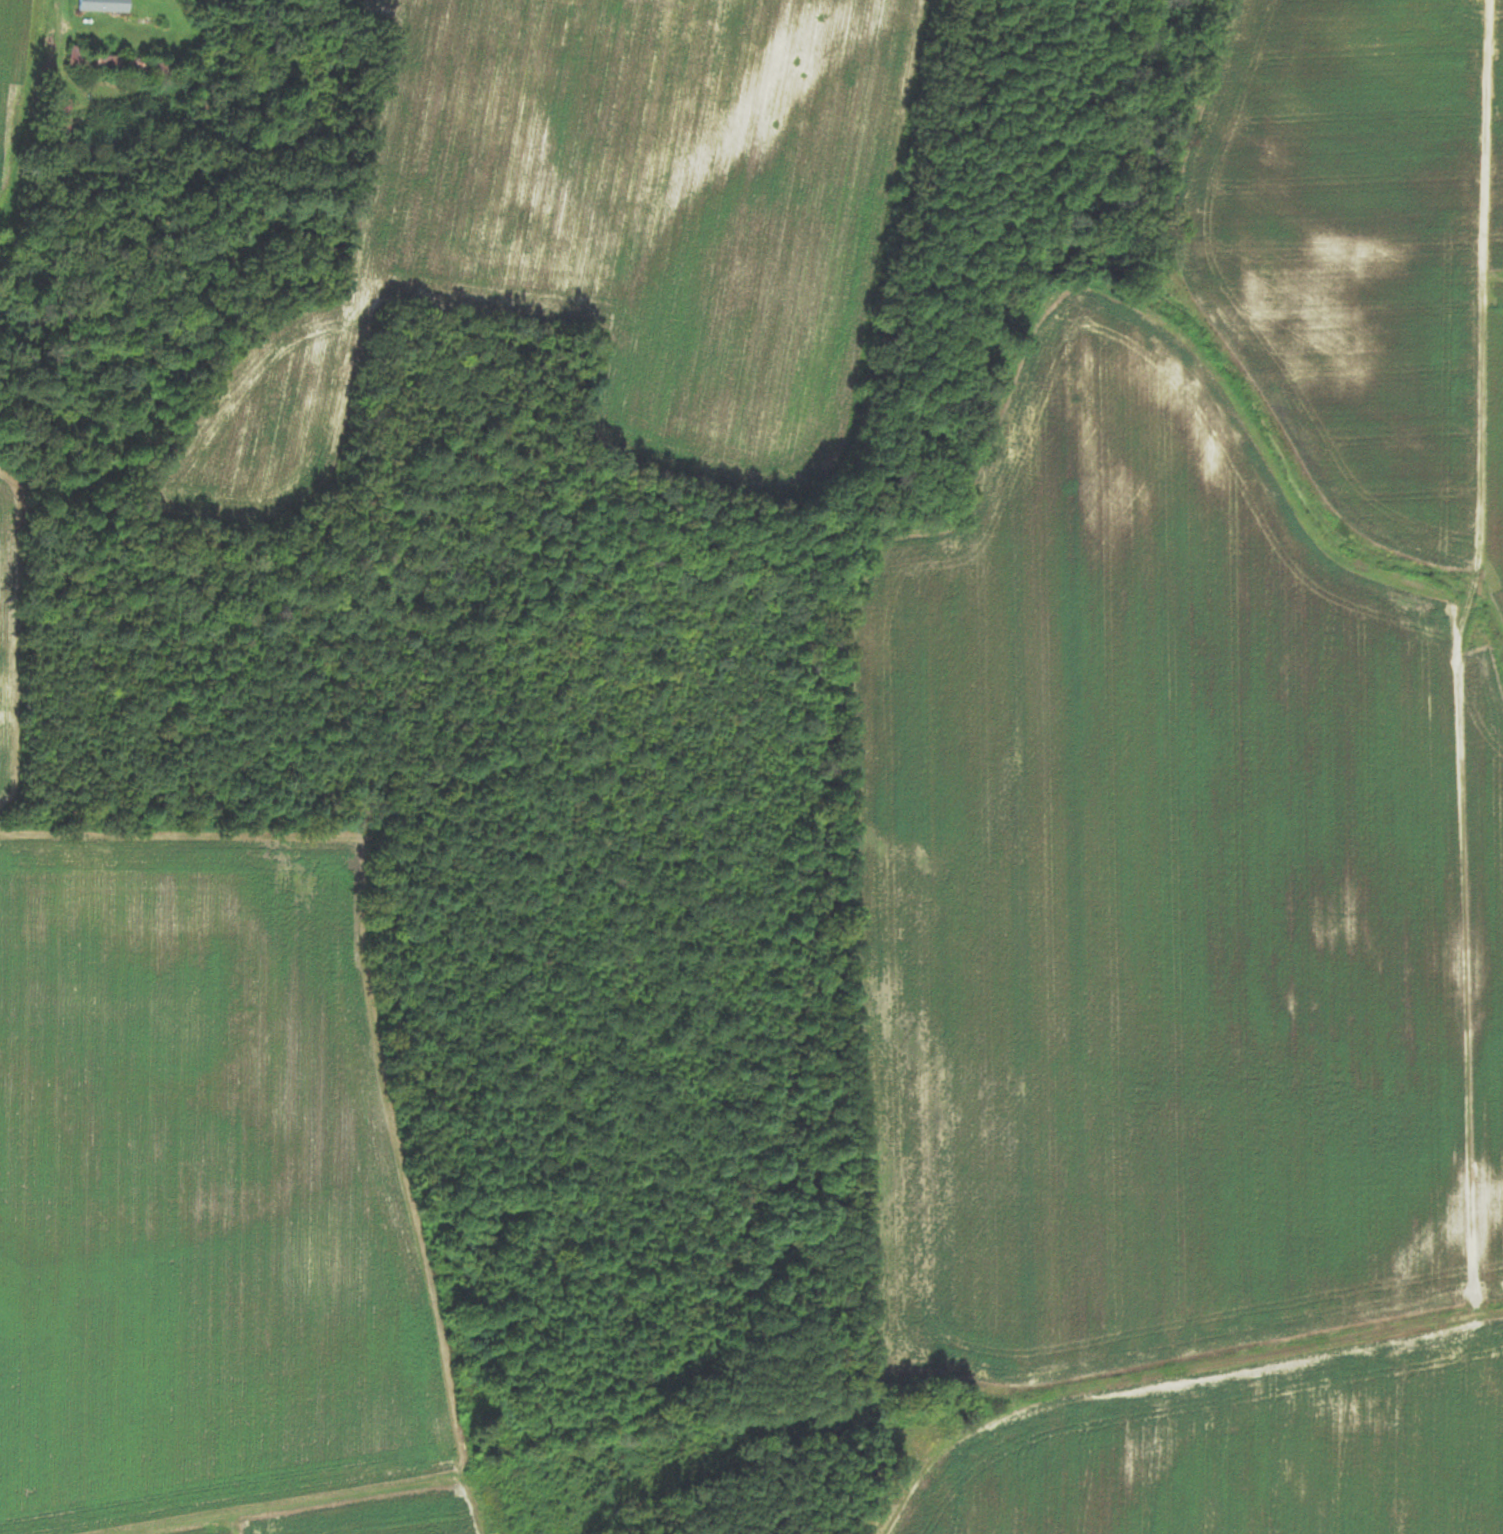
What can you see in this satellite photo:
road: (52, 1)
building: (105, 6)
building: (118, 64)
road: (380, 335)

